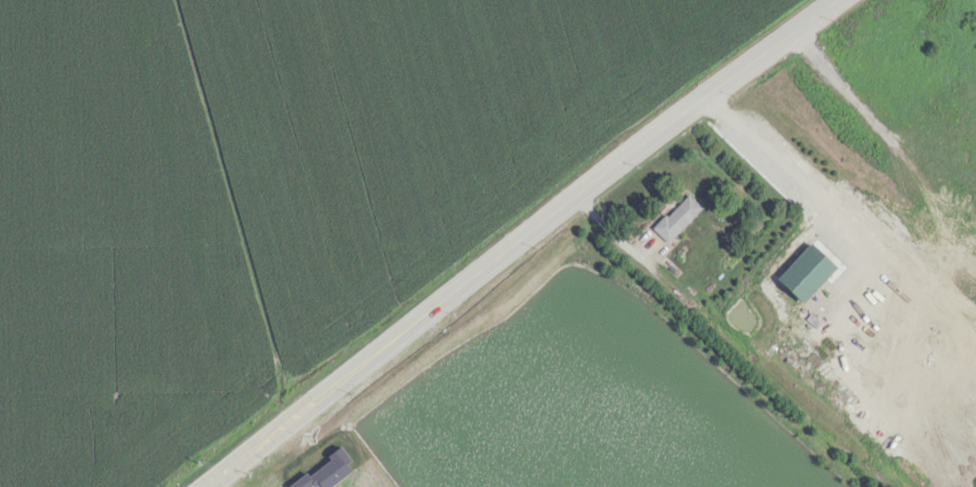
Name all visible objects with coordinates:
road: (774, 161)
building: (676, 217)
road: (521, 242)
building: (805, 272)
building: (325, 471)

